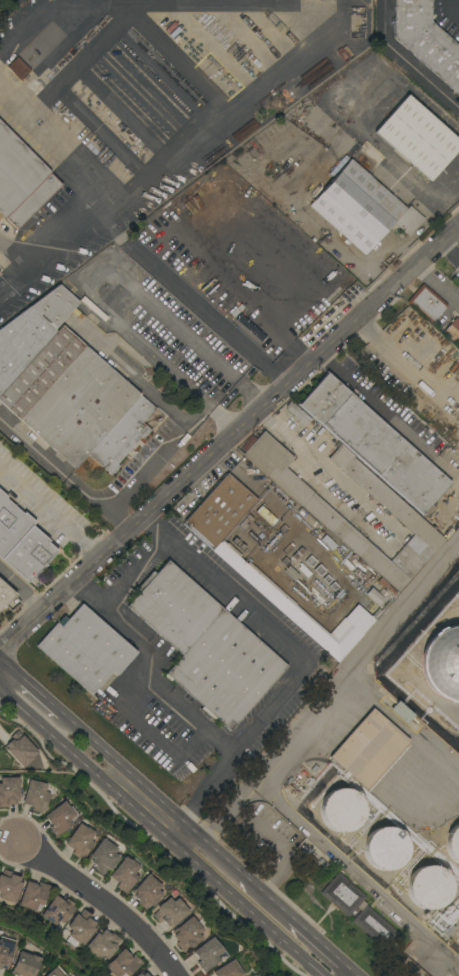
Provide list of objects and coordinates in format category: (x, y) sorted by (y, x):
road: (104, 1)
road: (449, 10)
parking lot: (15, 15)
parking lot: (447, 16)
building: (426, 40)
road: (405, 61)
building: (19, 69)
building: (349, 97)
road: (223, 115)
building: (458, 128)
building: (418, 138)
road: (59, 142)
building: (21, 180)
building: (356, 206)
building: (409, 221)
road: (449, 251)
road: (49, 255)
building: (215, 282)
building: (206, 290)
road: (192, 301)
road: (123, 304)
building: (427, 304)
building: (240, 306)
building: (453, 331)
building: (269, 349)
building: (67, 387)
road: (373, 400)
building: (298, 414)
road: (229, 438)
building: (374, 444)
road: (327, 472)
road: (136, 477)
building: (309, 501)
road: (101, 506)
road: (50, 512)
building: (307, 517)
building: (21, 542)
road: (137, 569)
building: (292, 574)
building: (262, 584)
road: (21, 590)
building: (5, 595)
building: (374, 597)
building: (206, 646)
building: (86, 649)
building: (442, 663)
road: (330, 698)
road: (27, 699)
building: (401, 713)
road: (263, 717)
road: (152, 729)
building: (20, 749)
building: (369, 749)
building: (9, 791)
road: (203, 792)
building: (36, 796)
building: (342, 810)
storage tank: (342, 810)
building: (60, 818)
road: (169, 825)
building: (80, 841)
building: (453, 844)
storage tank: (453, 844)
building: (386, 849)
storage tank: (386, 849)
building: (103, 856)
building: (124, 874)
building: (9, 886)
building: (429, 887)
storage tank: (429, 887)
building: (146, 892)
building: (33, 895)
road: (104, 899)
building: (58, 910)
building: (170, 912)
building: (366, 914)
building: (82, 927)
building: (458, 930)
storage tank: (458, 930)
building: (187, 934)
building: (103, 944)
road: (309, 950)
building: (5, 952)
building: (207, 954)
building: (124, 964)
building: (24, 965)
building: (228, 970)
building: (55, 972)
building: (142, 974)
road: (337, 974)

